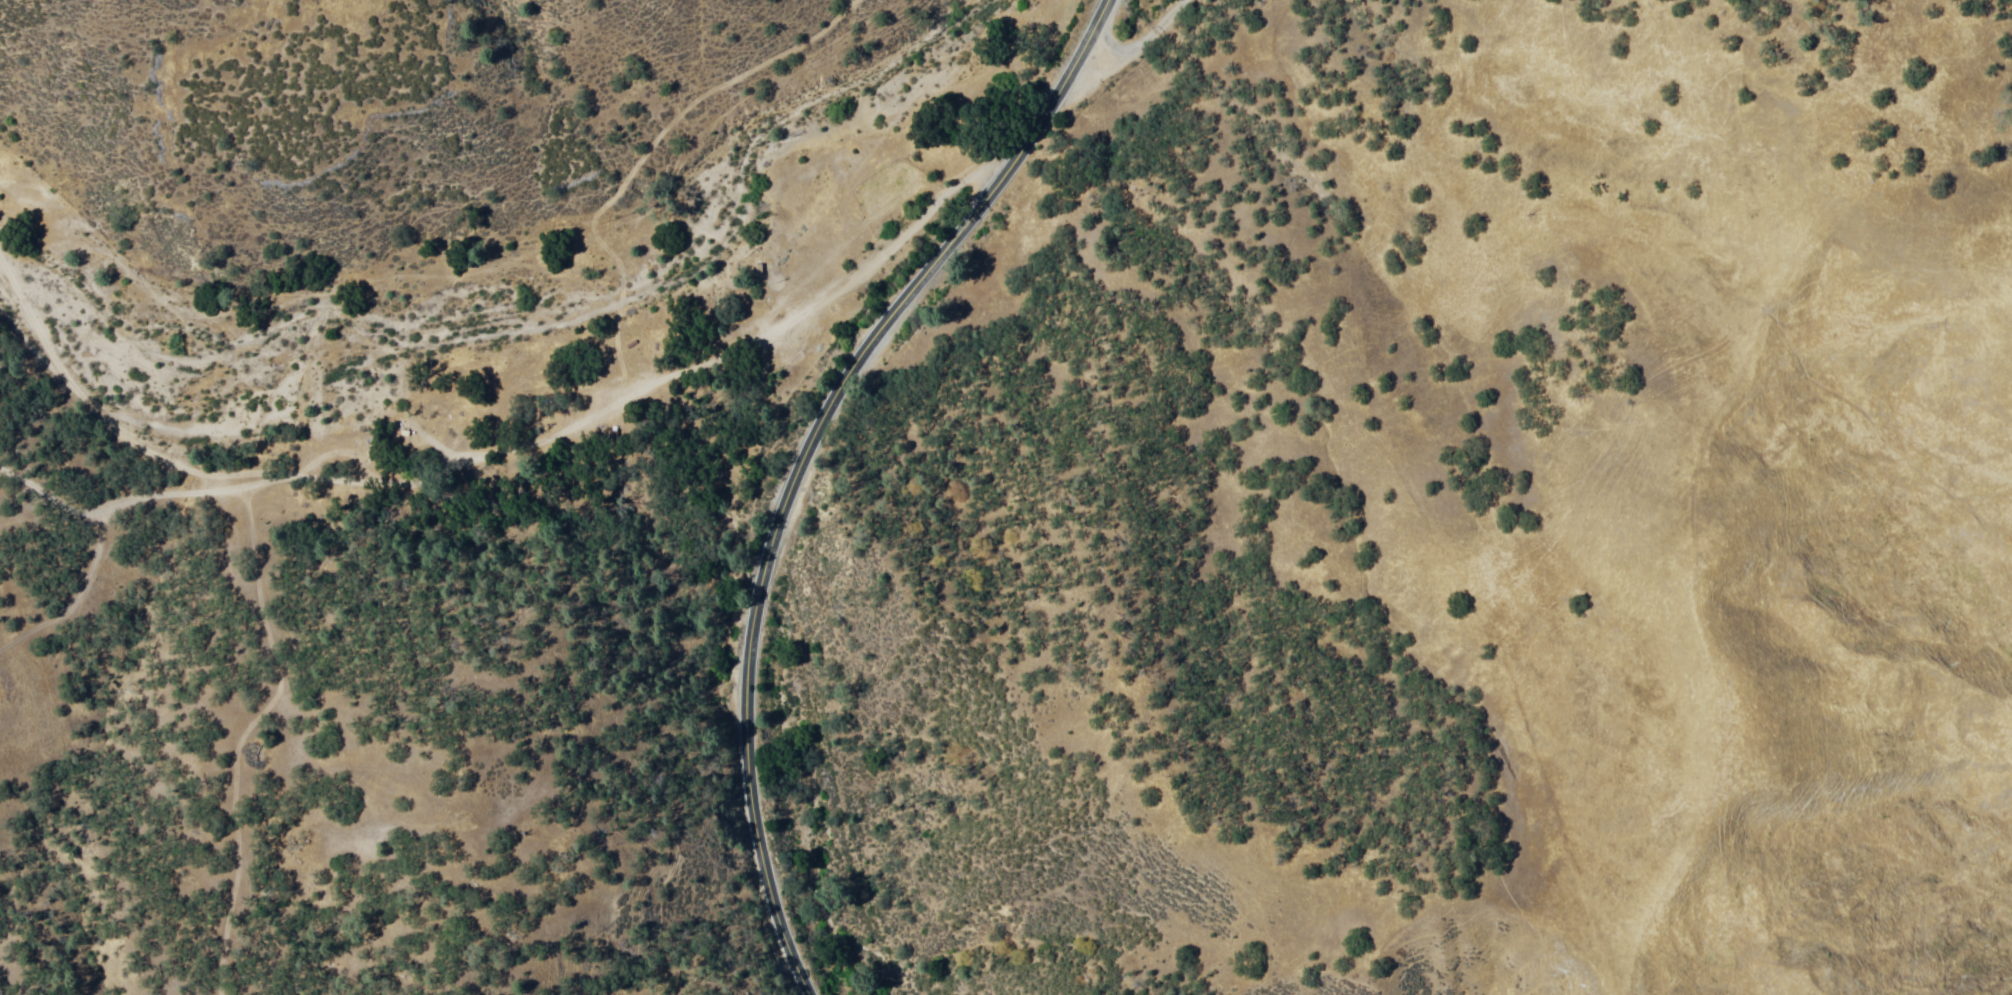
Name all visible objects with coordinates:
road: (1139, 42)
building: (759, 268)
road: (802, 458)
building: (345, 461)
road: (526, 461)

